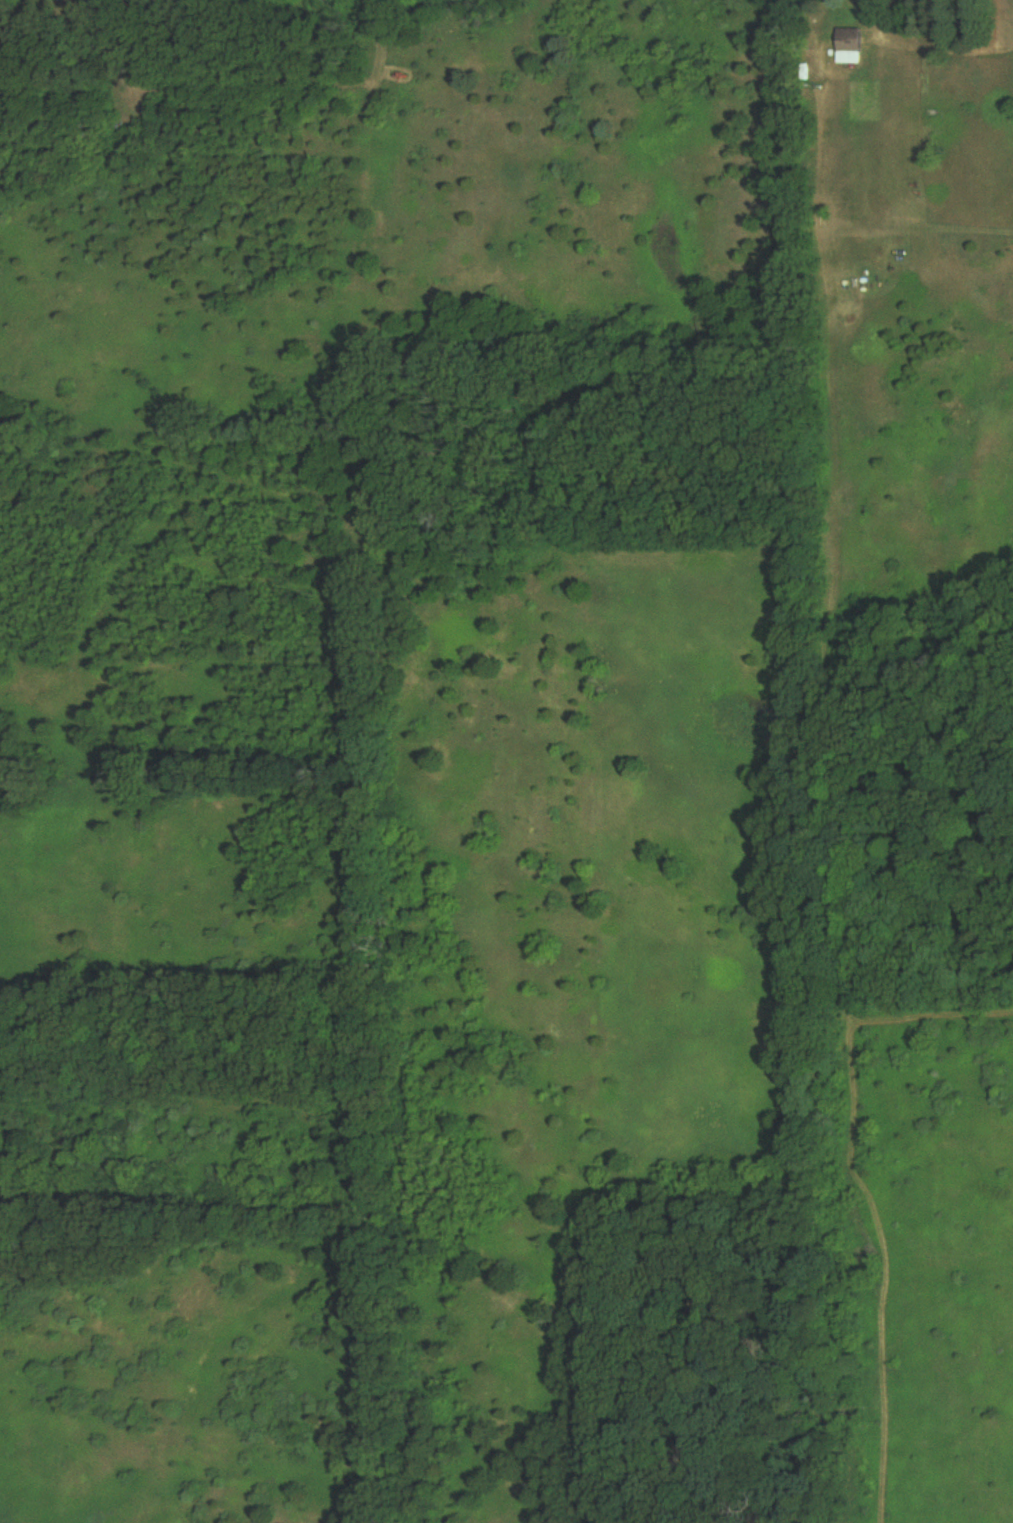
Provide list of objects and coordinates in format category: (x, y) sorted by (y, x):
road: (866, 11)
building: (848, 47)

